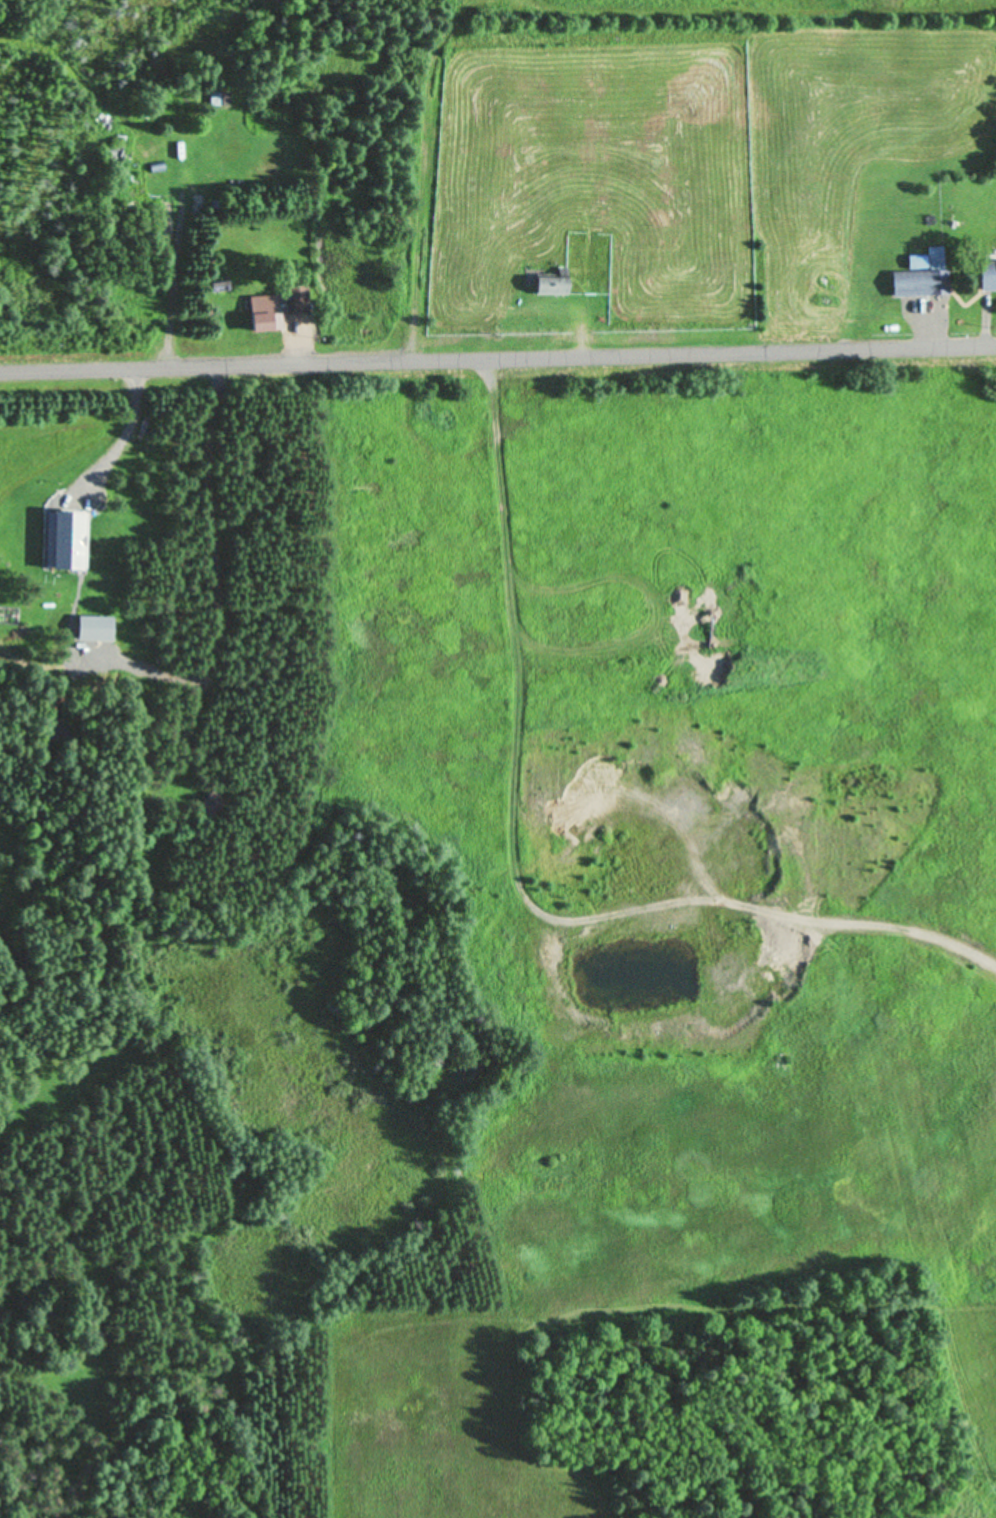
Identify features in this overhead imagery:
building: (219, 100)
building: (115, 157)
building: (987, 277)
building: (923, 279)
building: (549, 288)
building: (297, 302)
building: (264, 315)
road: (498, 356)
building: (211, 806)

